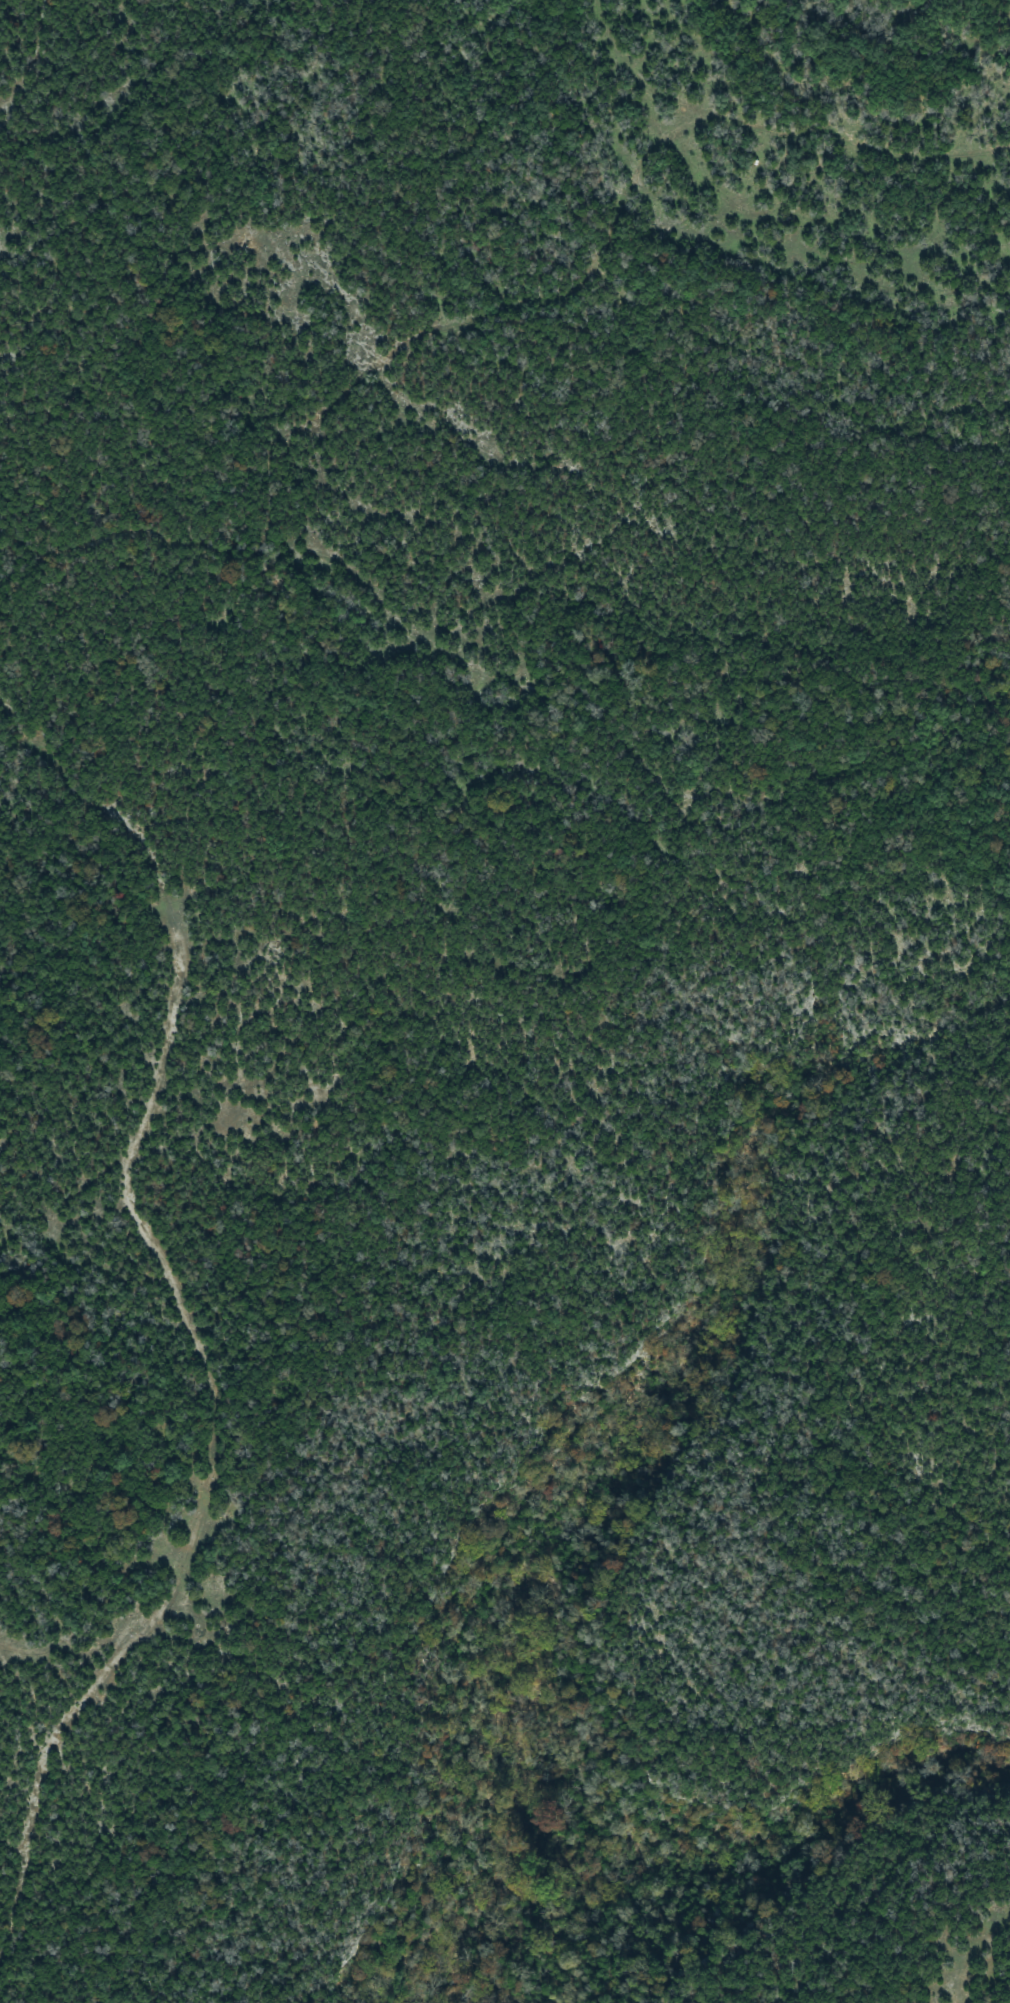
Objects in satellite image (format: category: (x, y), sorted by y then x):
road: (43, 107)
road: (168, 1001)
road: (125, 1670)

